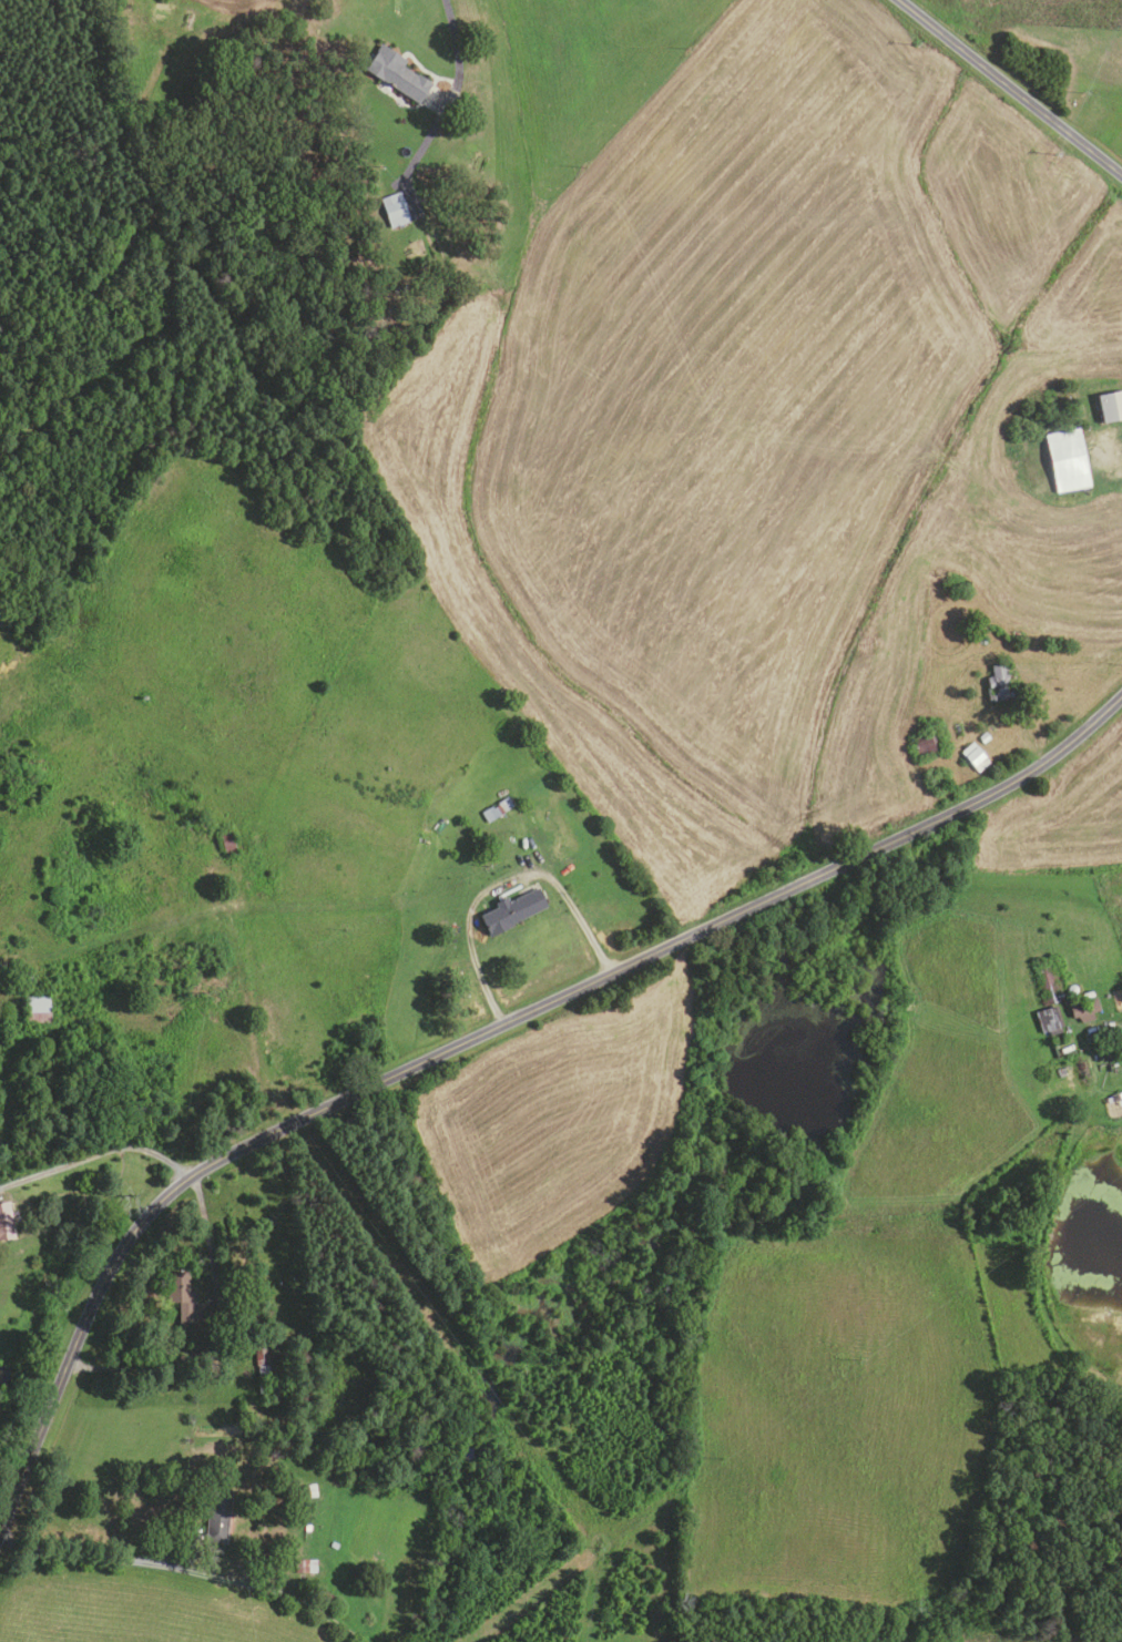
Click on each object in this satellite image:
road: (459, 60)
building: (396, 73)
road: (1009, 88)
building: (392, 210)
building: (1109, 406)
road: (1111, 452)
building: (1064, 460)
road: (1080, 660)
building: (1001, 684)
building: (982, 738)
building: (924, 743)
building: (972, 757)
building: (496, 808)
building: (226, 844)
road: (499, 883)
building: (510, 909)
building: (1049, 981)
building: (35, 1009)
building: (1083, 1009)
building: (1048, 1020)
road: (478, 1032)
building: (1106, 1036)
building: (1111, 1051)
building: (1061, 1070)
building: (1113, 1097)
crop: (559, 1119)
road: (95, 1154)
building: (4, 1222)
building: (183, 1296)
road: (213, 1332)
building: (264, 1356)
building: (266, 1390)
building: (306, 1490)
building: (215, 1516)
building: (306, 1527)
road: (183, 1532)
building: (333, 1544)
road: (91, 1554)
building: (304, 1565)
road: (278, 1593)
building: (324, 1595)

